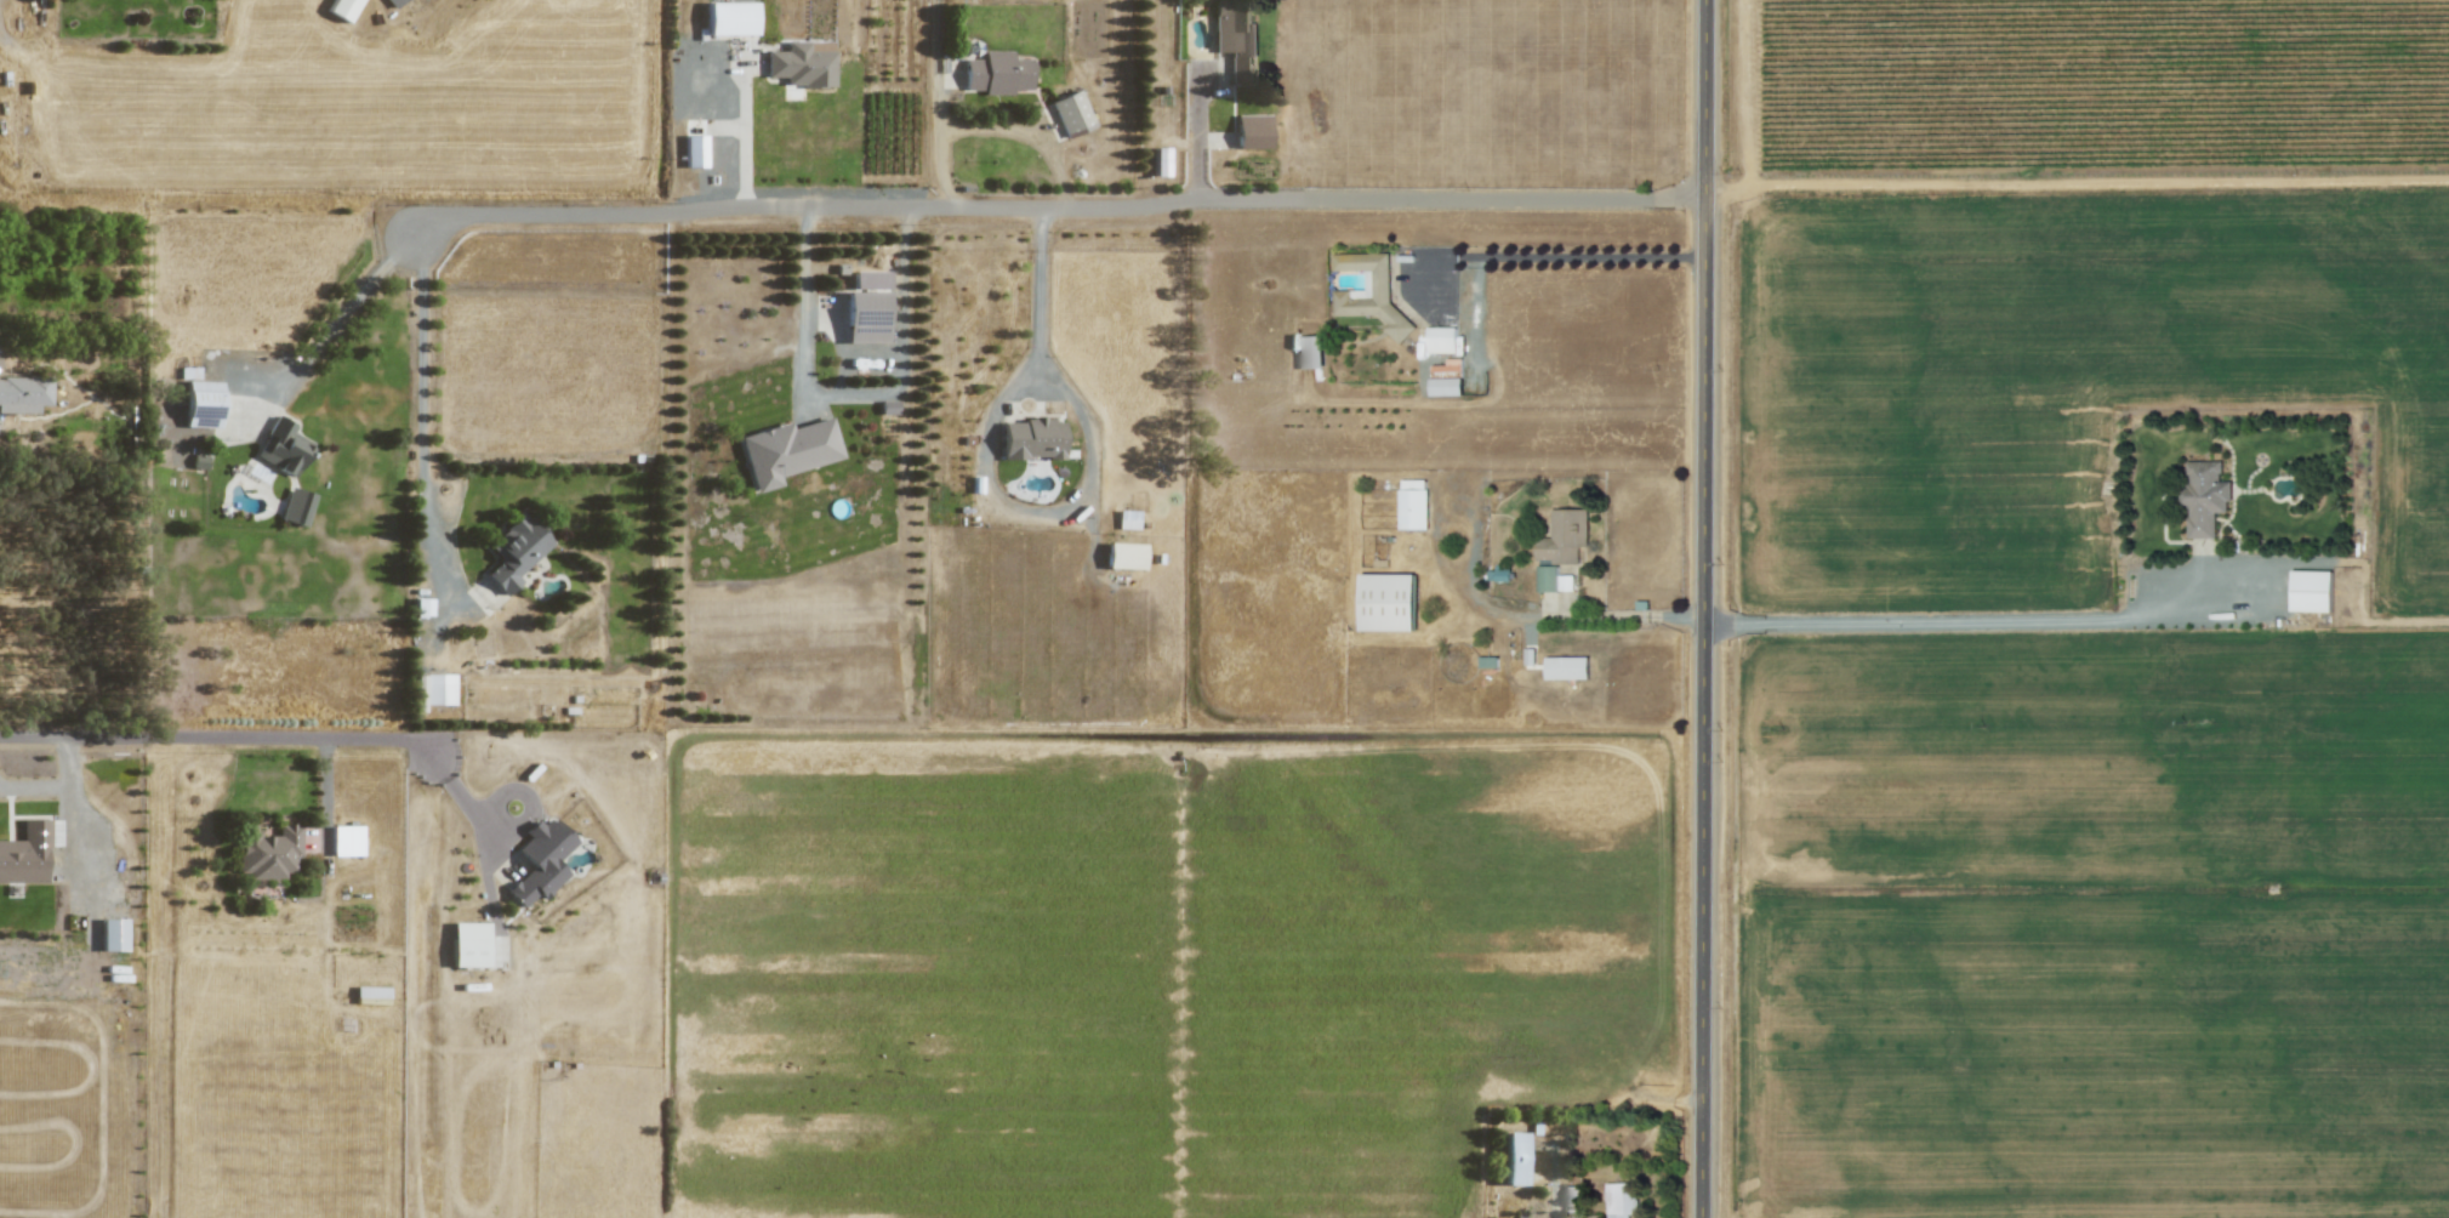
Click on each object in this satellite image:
building: (393, 2)
building: (341, 8)
building: (729, 18)
building: (1235, 36)
building: (802, 63)
building: (996, 73)
road: (941, 97)
building: (1071, 113)
road: (745, 127)
road: (729, 130)
building: (1252, 131)
road: (1025, 132)
building: (694, 150)
road: (2078, 184)
road: (1059, 198)
road: (1503, 258)
road: (1041, 300)
building: (1361, 300)
building: (865, 317)
road: (329, 331)
building: (1441, 340)
building: (1310, 352)
building: (1447, 377)
building: (23, 394)
road: (844, 397)
building: (201, 403)
building: (1031, 439)
building: (283, 448)
building: (786, 450)
building: (2205, 496)
building: (1413, 503)
building: (296, 506)
road: (421, 513)
building: (1565, 536)
road: (1477, 543)
road: (1442, 545)
building: (513, 552)
building: (1123, 556)
building: (1499, 574)
building: (1548, 577)
building: (2311, 591)
building: (1388, 602)
road: (1707, 608)
road: (1589, 616)
road: (2016, 621)
building: (1567, 667)
building: (438, 689)
building: (417, 693)
road: (279, 741)
road: (328, 803)
building: (346, 841)
building: (267, 852)
building: (25, 854)
building: (540, 860)
building: (112, 934)
building: (468, 944)
building: (1511, 1157)
road: (1554, 1172)
building: (1622, 1200)

